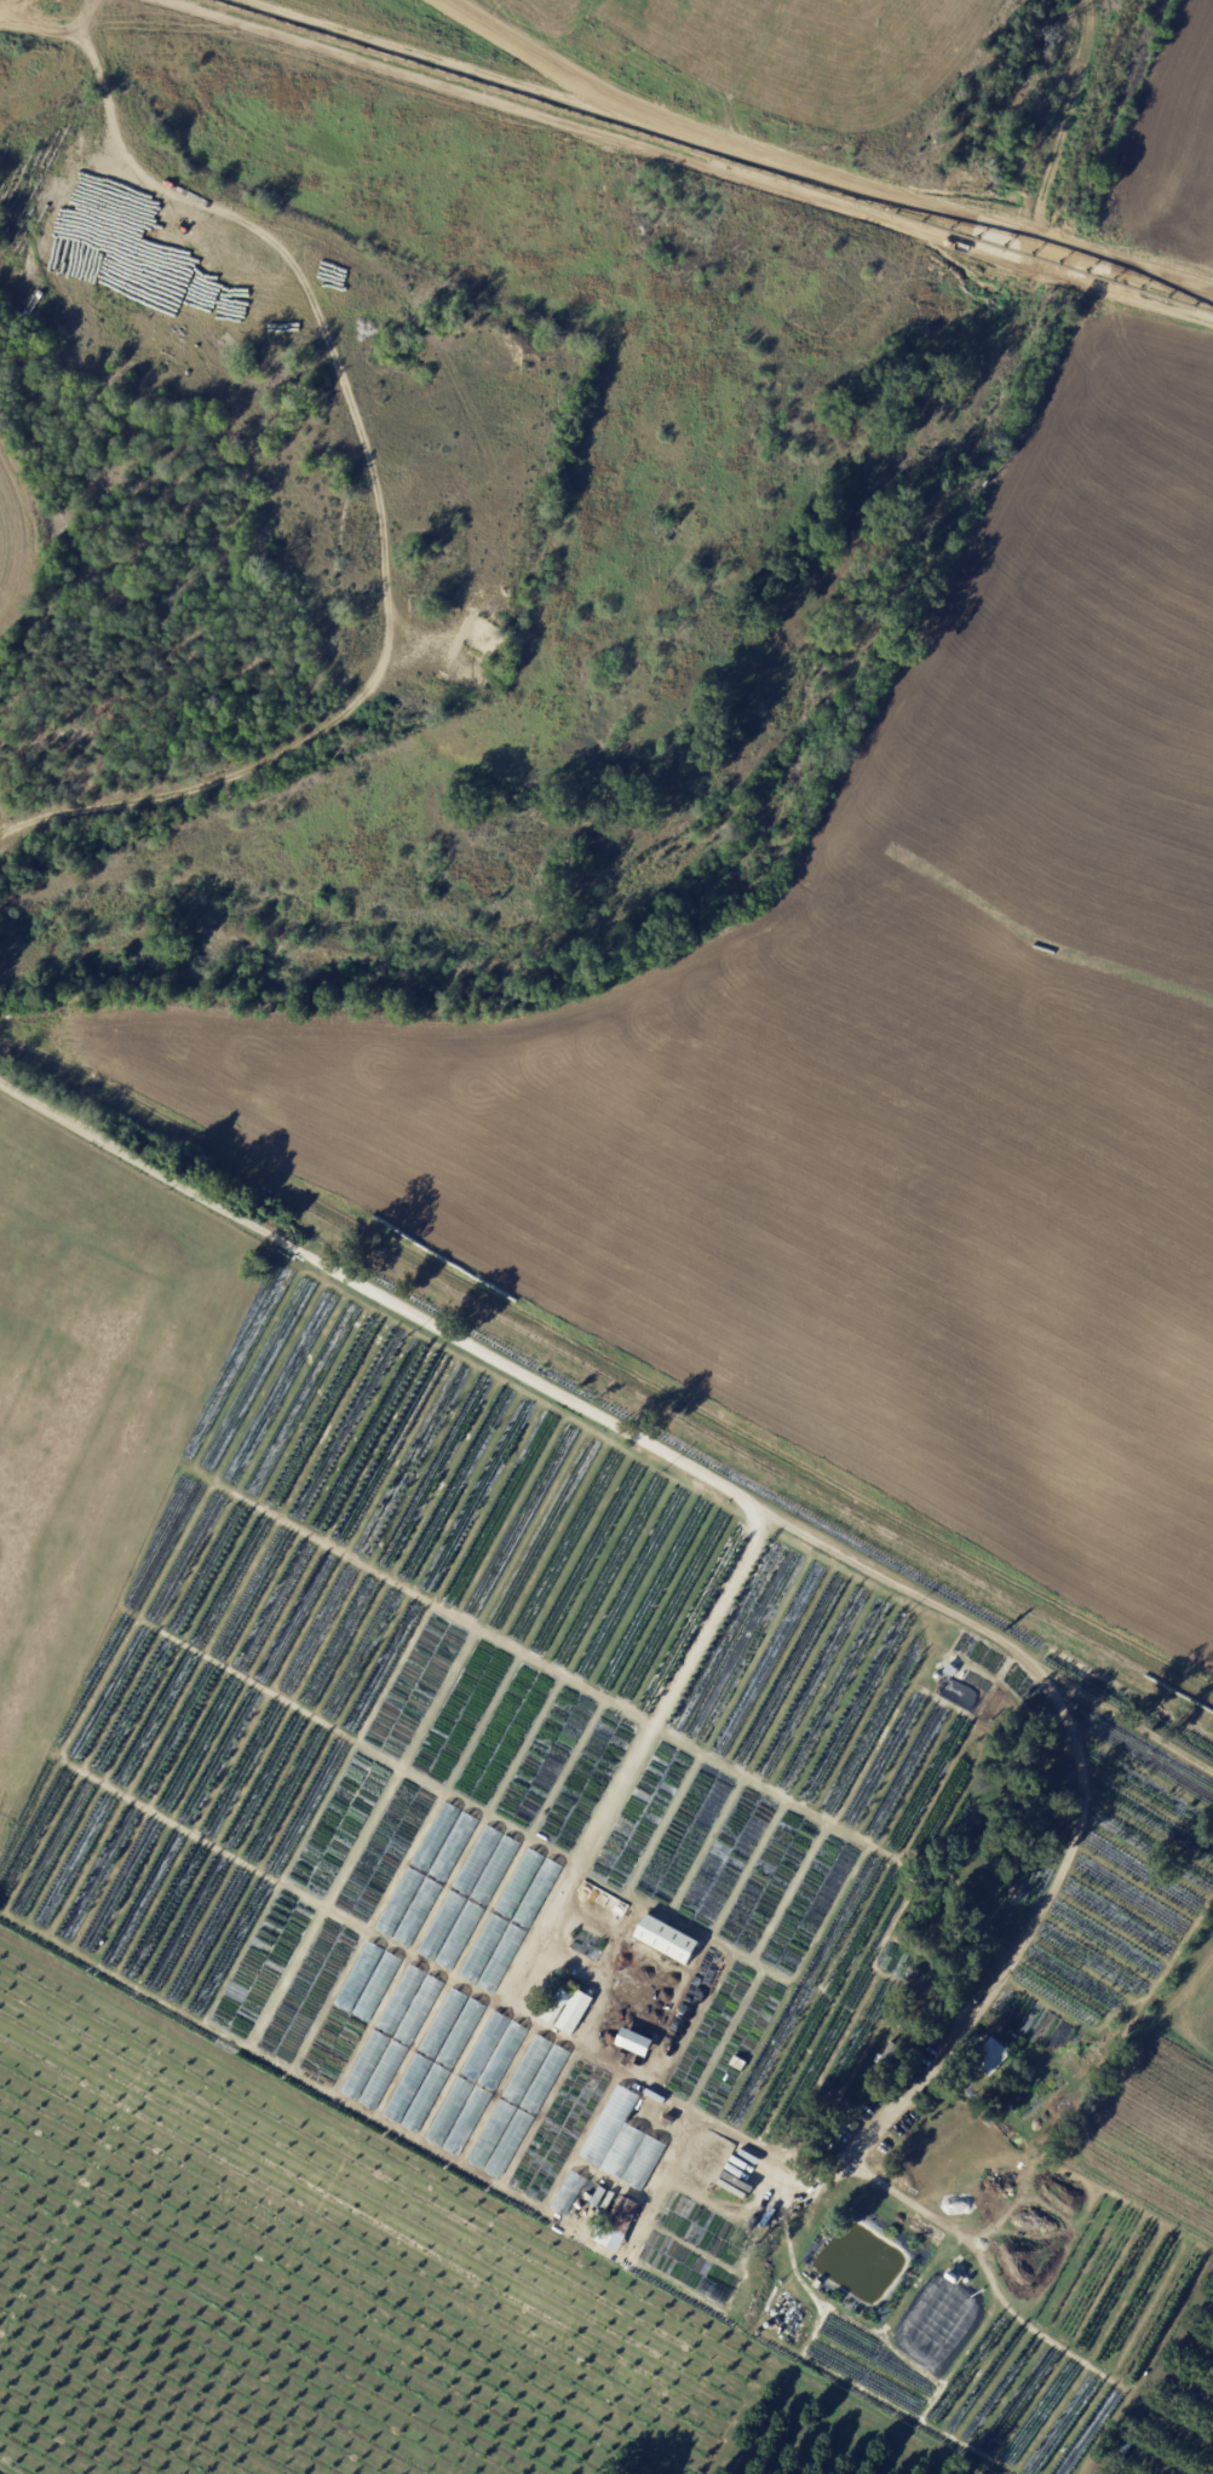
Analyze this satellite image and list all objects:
road: (736, 145)
quarry: (408, 172)
road: (1053, 237)
road: (1138, 261)
road: (692, 1477)
building: (950, 1670)
building: (521, 1885)
building: (537, 1894)
building: (442, 1926)
road: (608, 1927)
building: (461, 1937)
building: (666, 1938)
building: (485, 1949)
building: (502, 1960)
road: (602, 1979)
building: (402, 2000)
road: (512, 2002)
building: (558, 2003)
building: (577, 2003)
building: (420, 2010)
building: (442, 2024)
building: (461, 2033)
building: (634, 2043)
building: (485, 2047)
building: (504, 2056)
building: (990, 2058)
building: (367, 2065)
building: (528, 2069)
building: (384, 2076)
building: (545, 2079)
building: (408, 2088)
building: (569, 2093)
building: (426, 2098)
building: (587, 2102)
building: (450, 2112)
building: (643, 2121)
building: (467, 2122)
building: (508, 2145)
building: (621, 2151)
building: (534, 2158)
building: (551, 2168)
building: (574, 2182)
building: (683, 2184)
building: (673, 2188)
building: (597, 2197)
building: (662, 2199)
building: (620, 2220)
building: (958, 2269)
crop: (298, 2275)
building: (1120, 2444)

